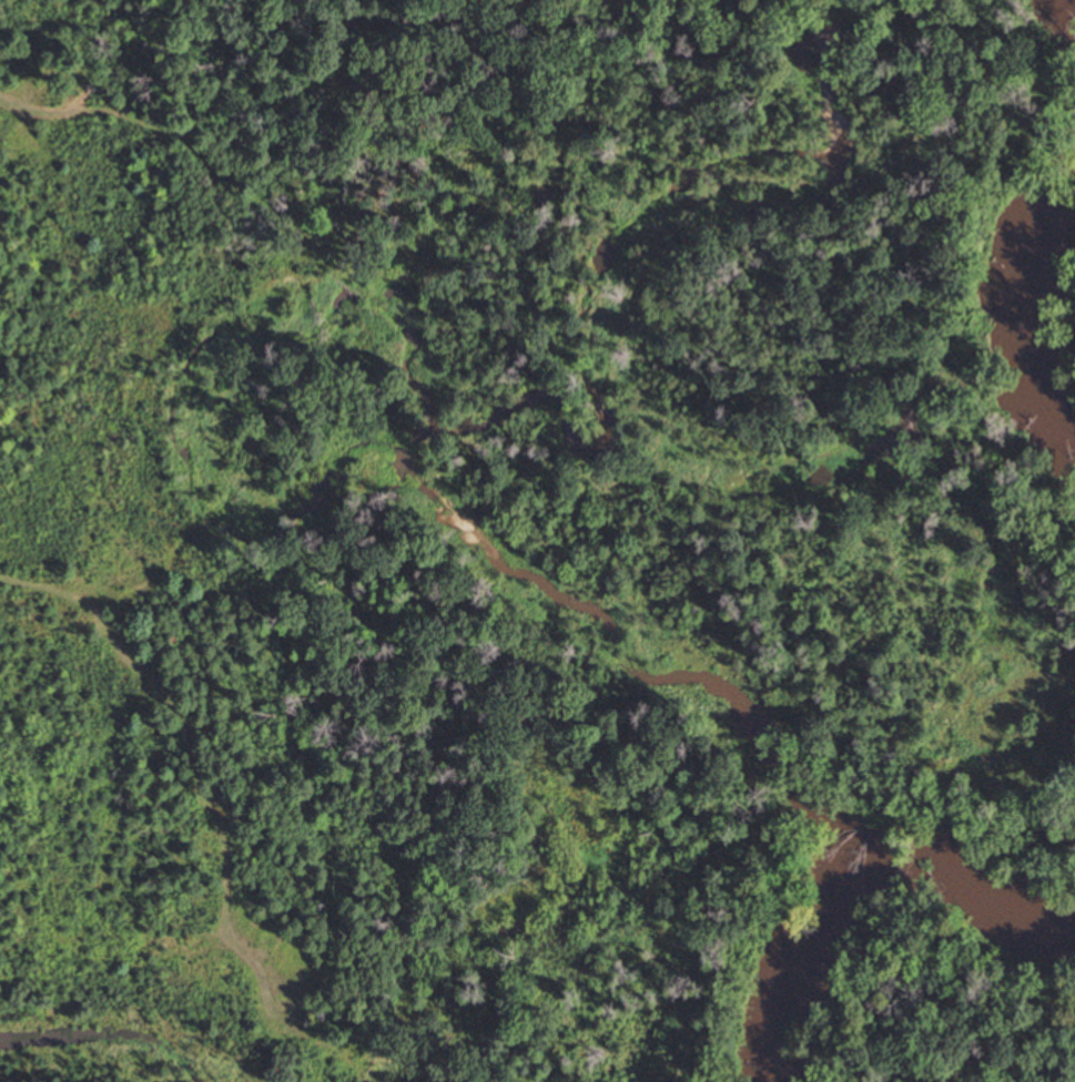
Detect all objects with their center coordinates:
river: (1021, 437)

